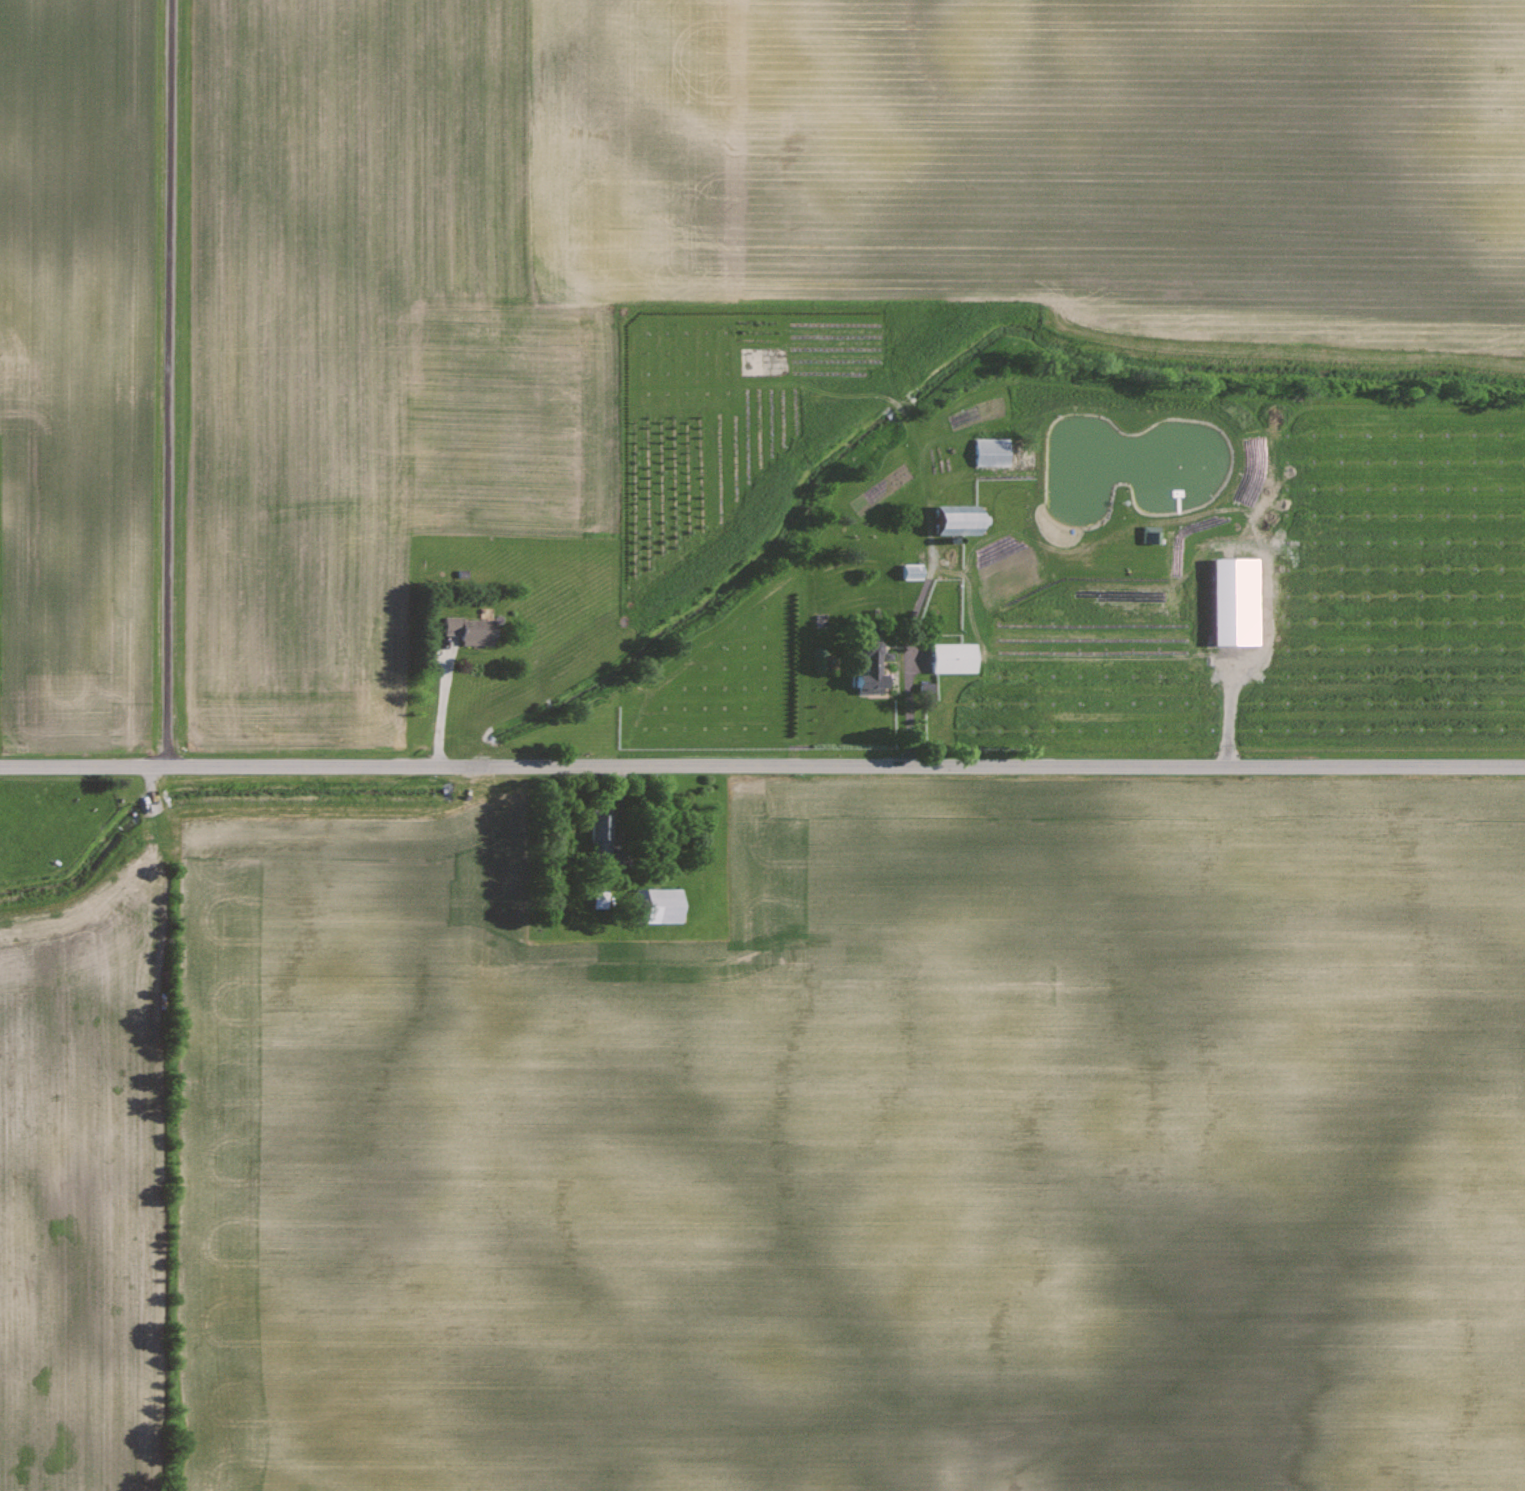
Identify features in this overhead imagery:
road: (170, 383)
road: (915, 470)
building: (946, 519)
building: (907, 571)
building: (1226, 601)
building: (473, 629)
building: (949, 658)
building: (862, 668)
building: (921, 687)
road: (442, 703)
road: (762, 766)
road: (620, 813)
building: (594, 834)
building: (653, 906)

